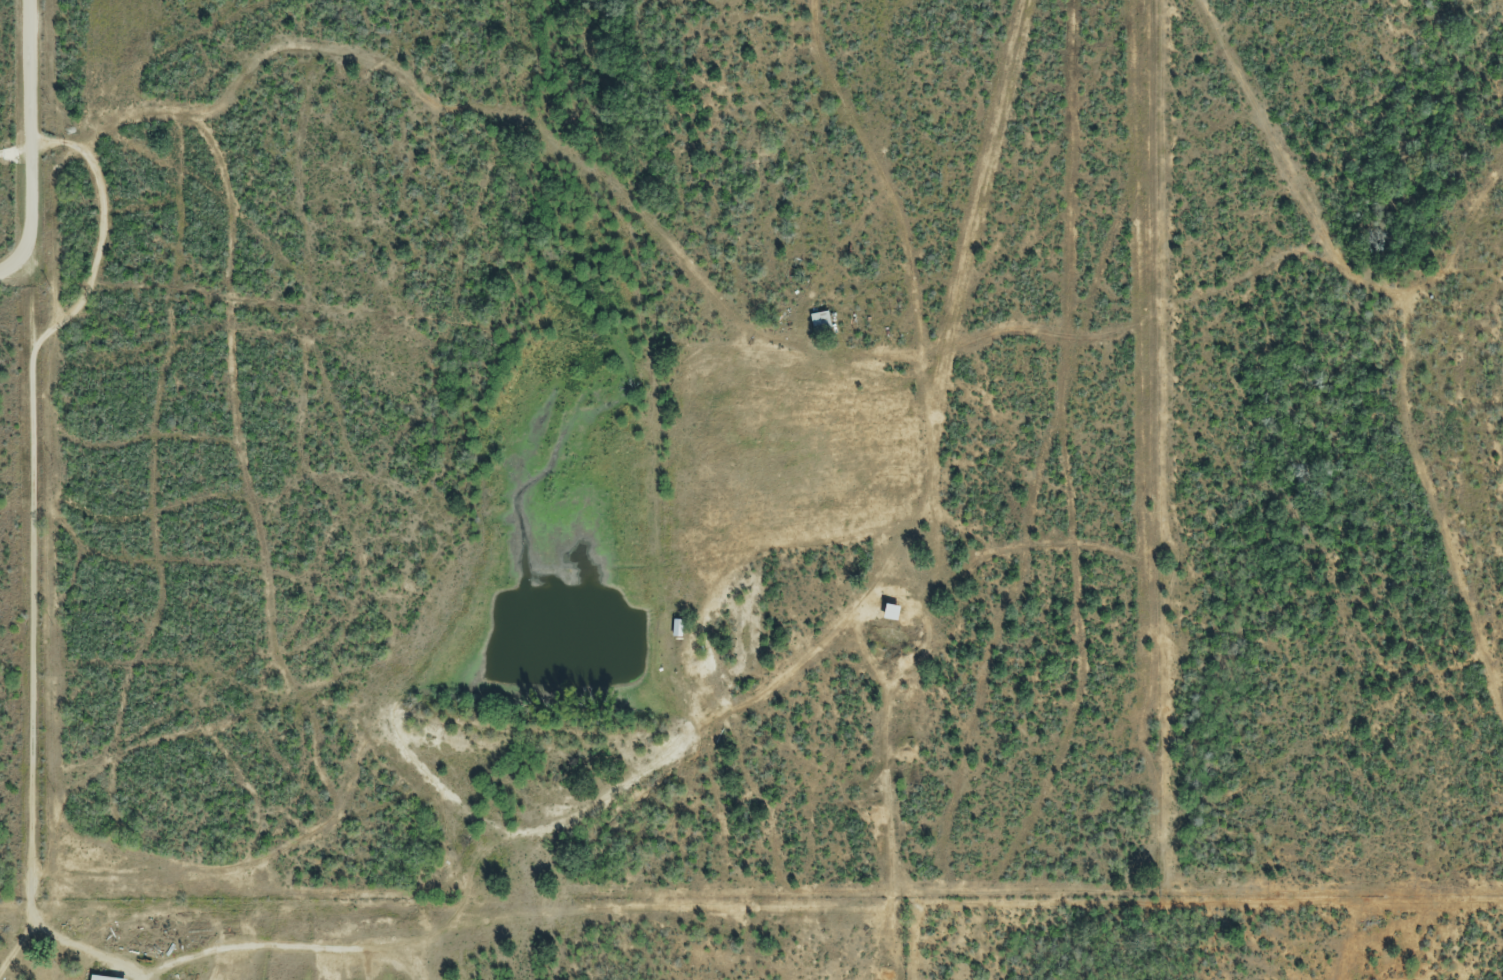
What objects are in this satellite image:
road: (31, 146)
road: (15, 155)
building: (817, 323)
road: (31, 574)
building: (886, 613)
building: (674, 630)
road: (462, 894)
road: (32, 909)
road: (90, 949)
road: (19, 950)
building: (110, 976)

